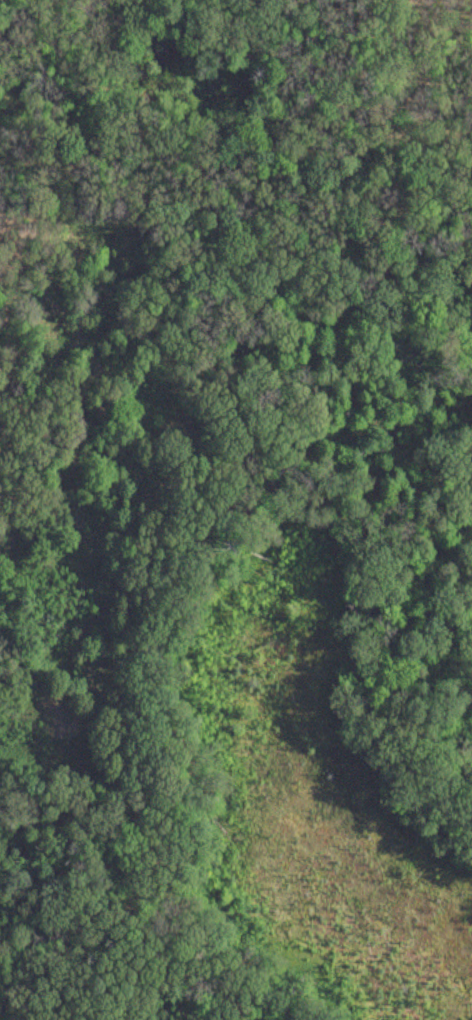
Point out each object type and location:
road: (126, 185)
road: (110, 320)
road: (356, 554)
park: (233, 903)

